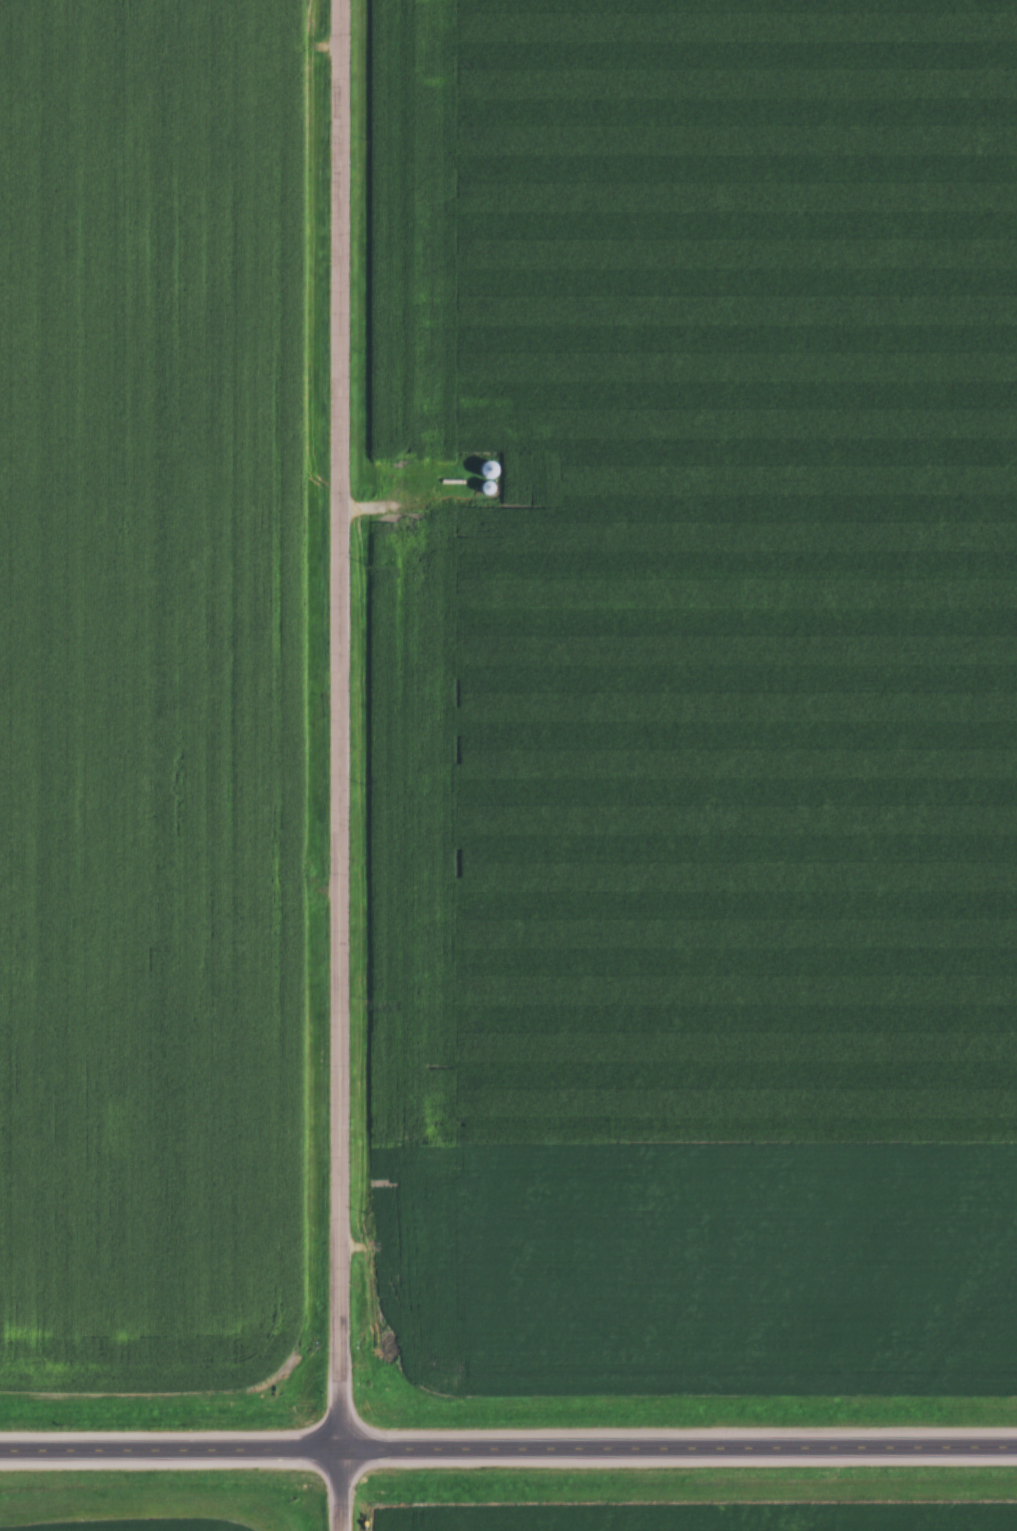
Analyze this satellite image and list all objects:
building: (487, 472)
road: (344, 765)
road: (508, 1448)

